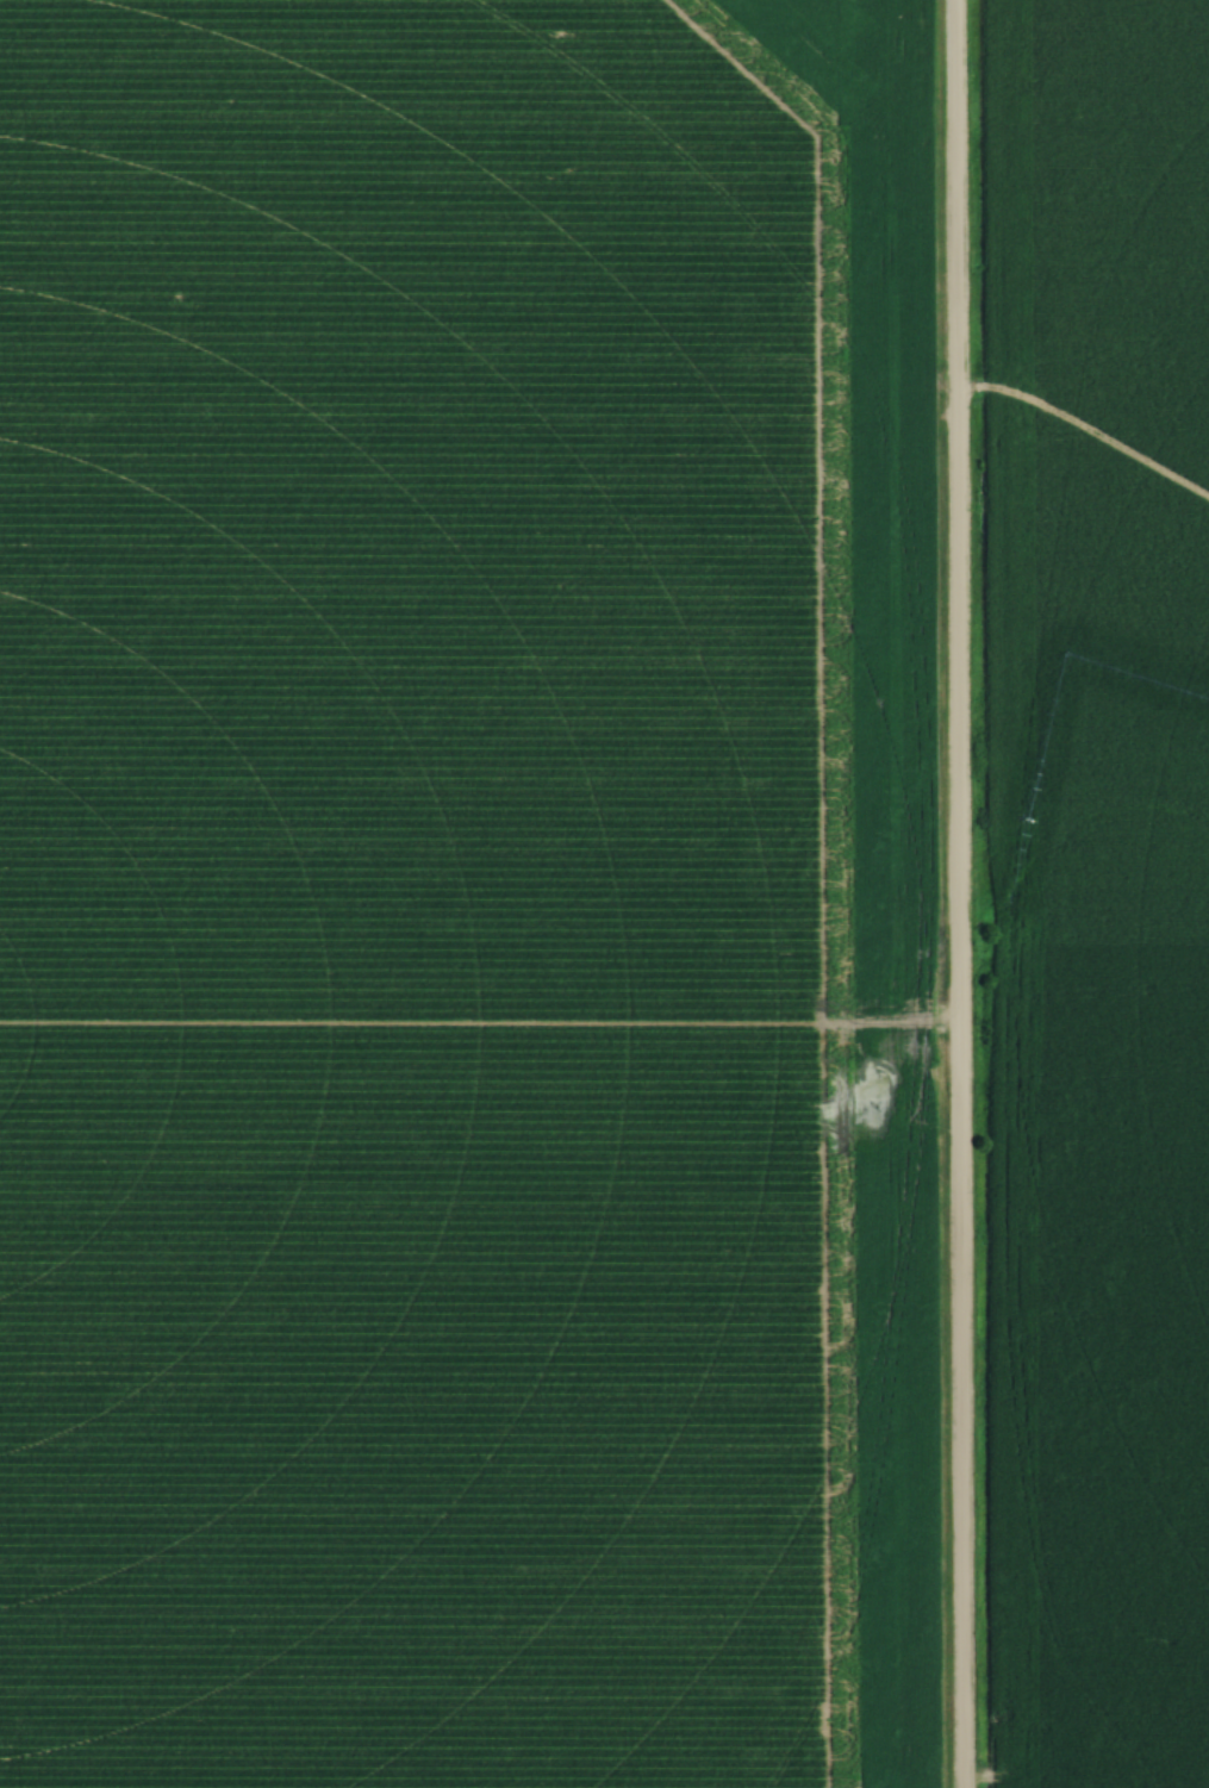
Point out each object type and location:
road: (954, 893)

